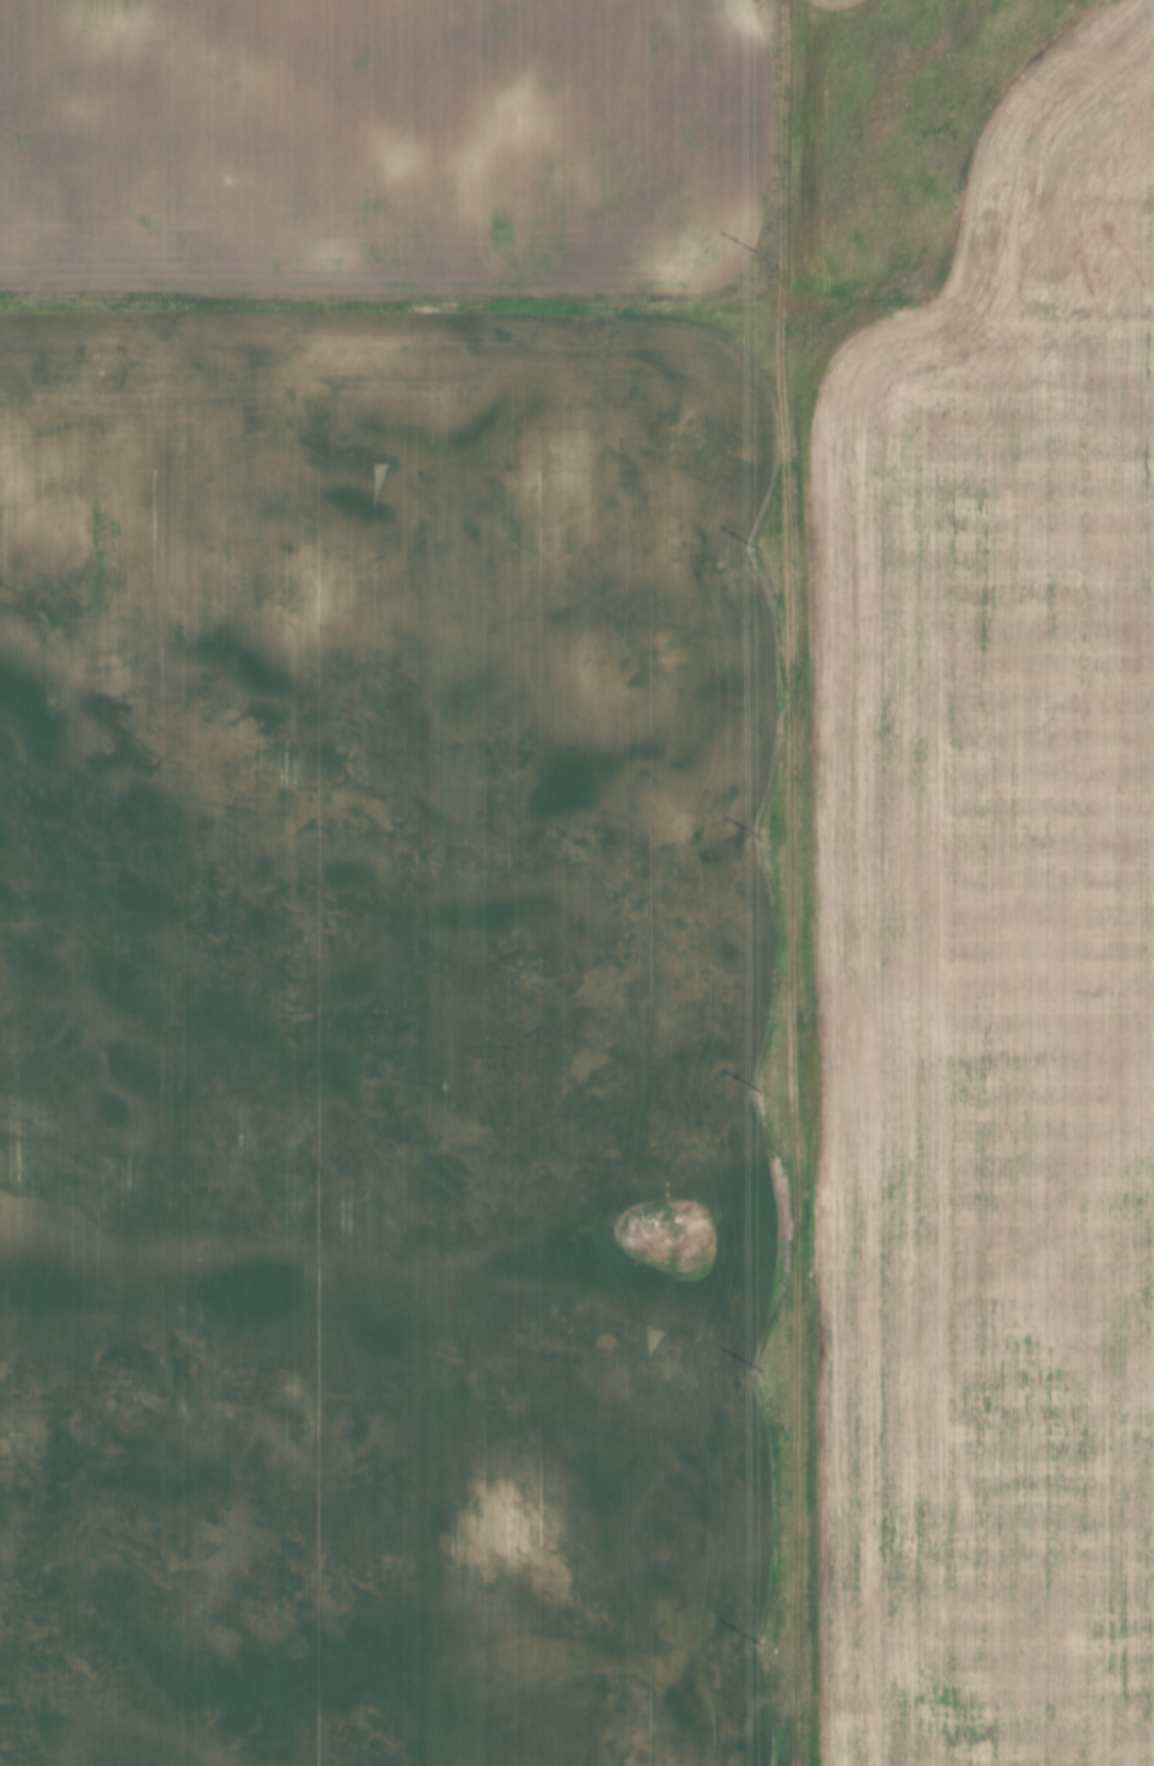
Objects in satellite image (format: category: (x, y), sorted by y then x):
road: (790, 882)

